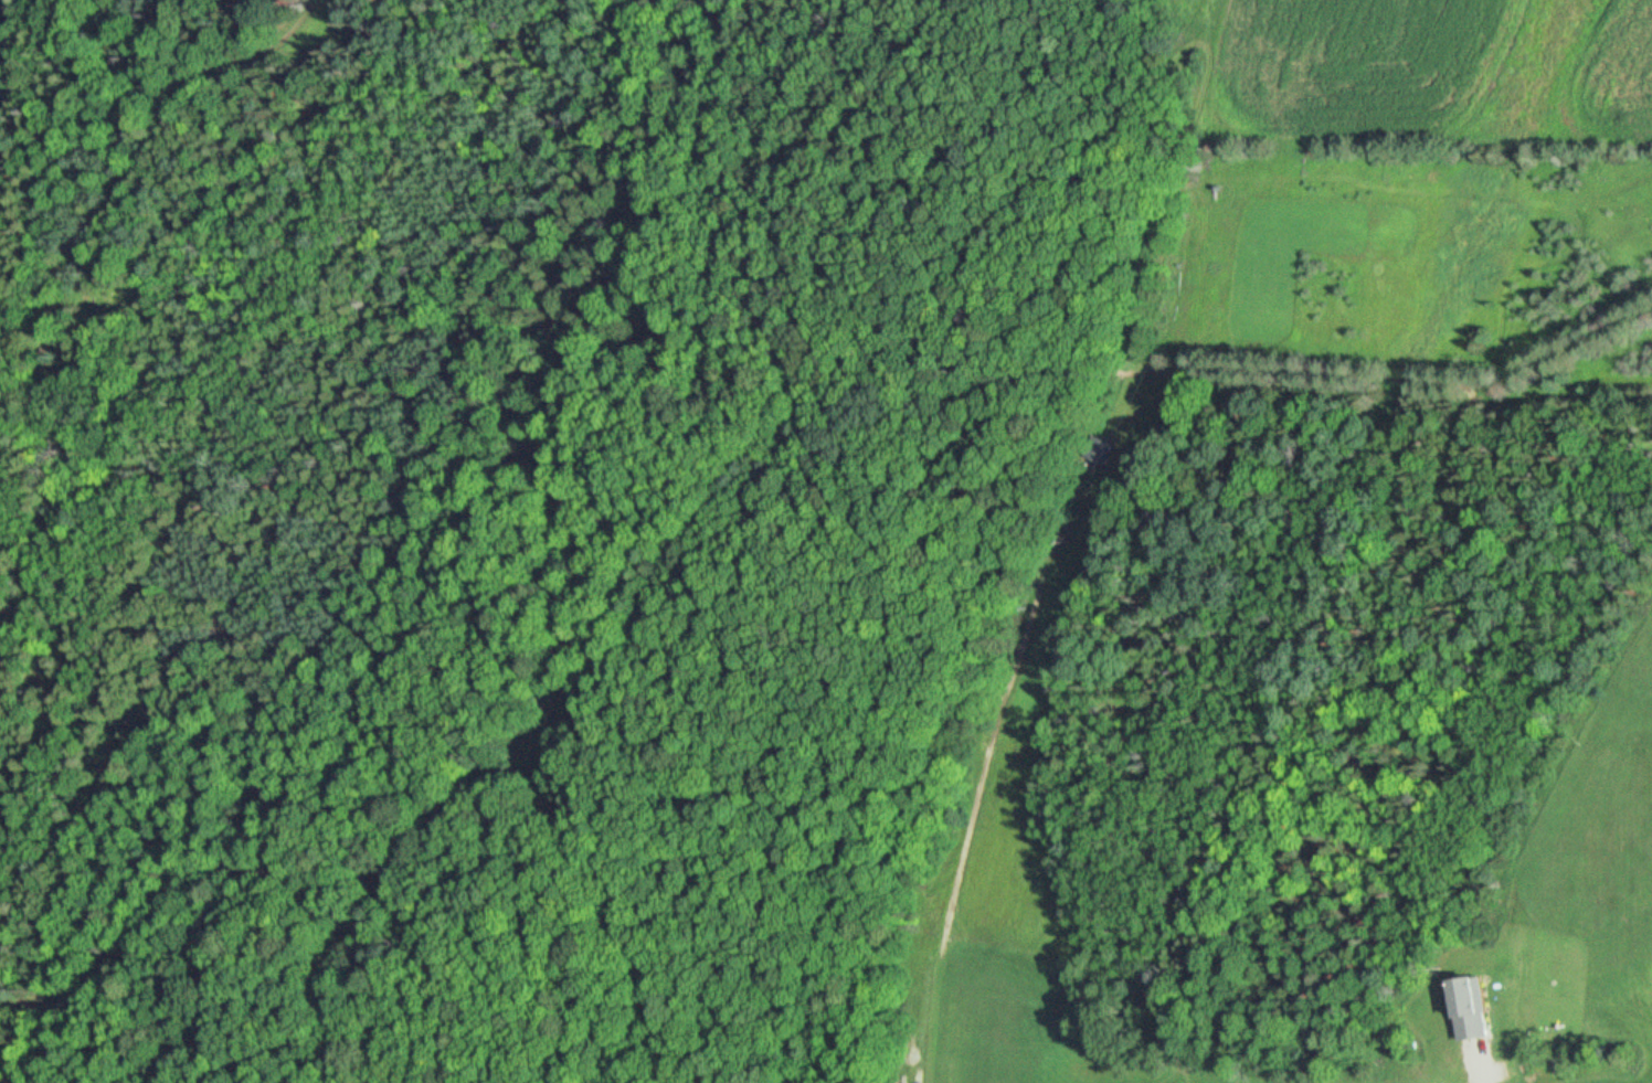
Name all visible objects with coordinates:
road: (1155, 152)
building: (1099, 453)

